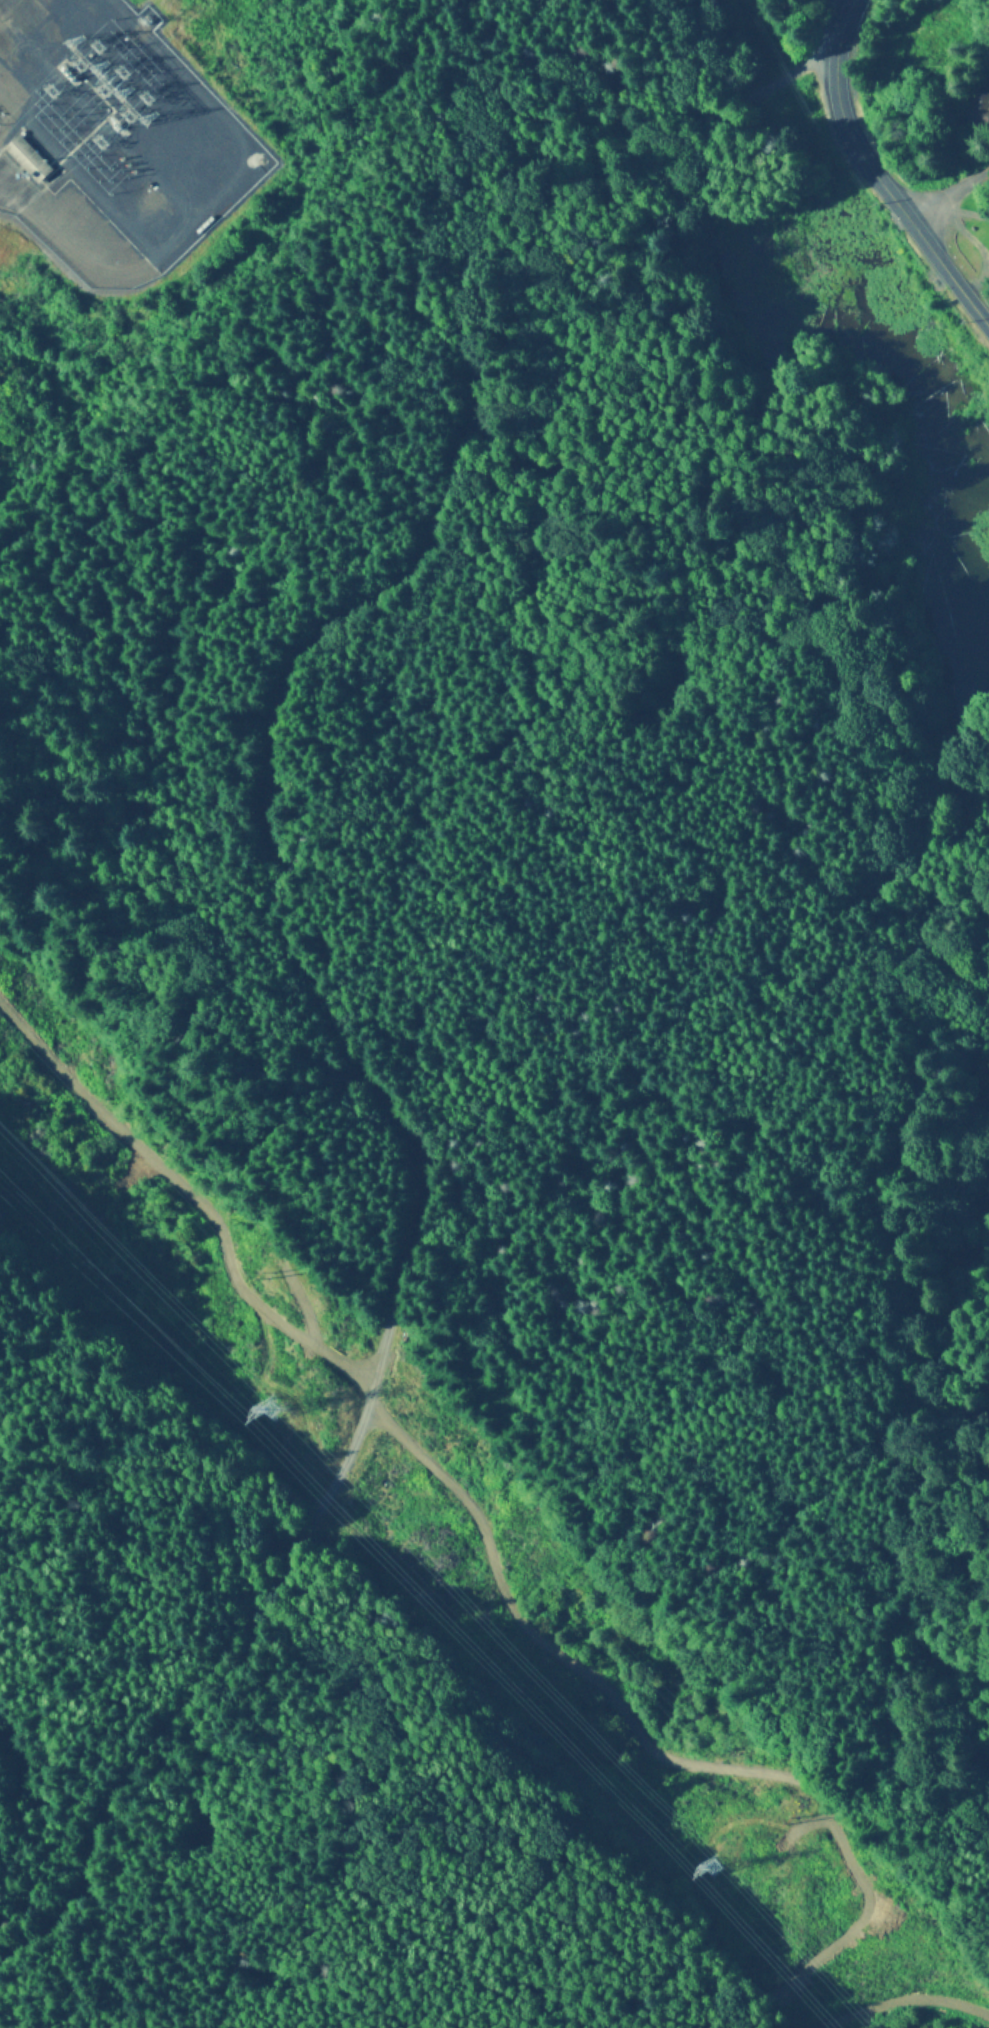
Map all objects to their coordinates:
road: (832, 16)
building: (978, 109)
power substation: (111, 140)
building: (28, 160)
road: (874, 175)
road: (948, 198)
road: (285, 952)
power tower: (275, 1277)
power tower: (273, 1411)
power tower: (796, 1819)
power tower: (716, 1871)
road: (21, 2009)
road: (67, 2009)

